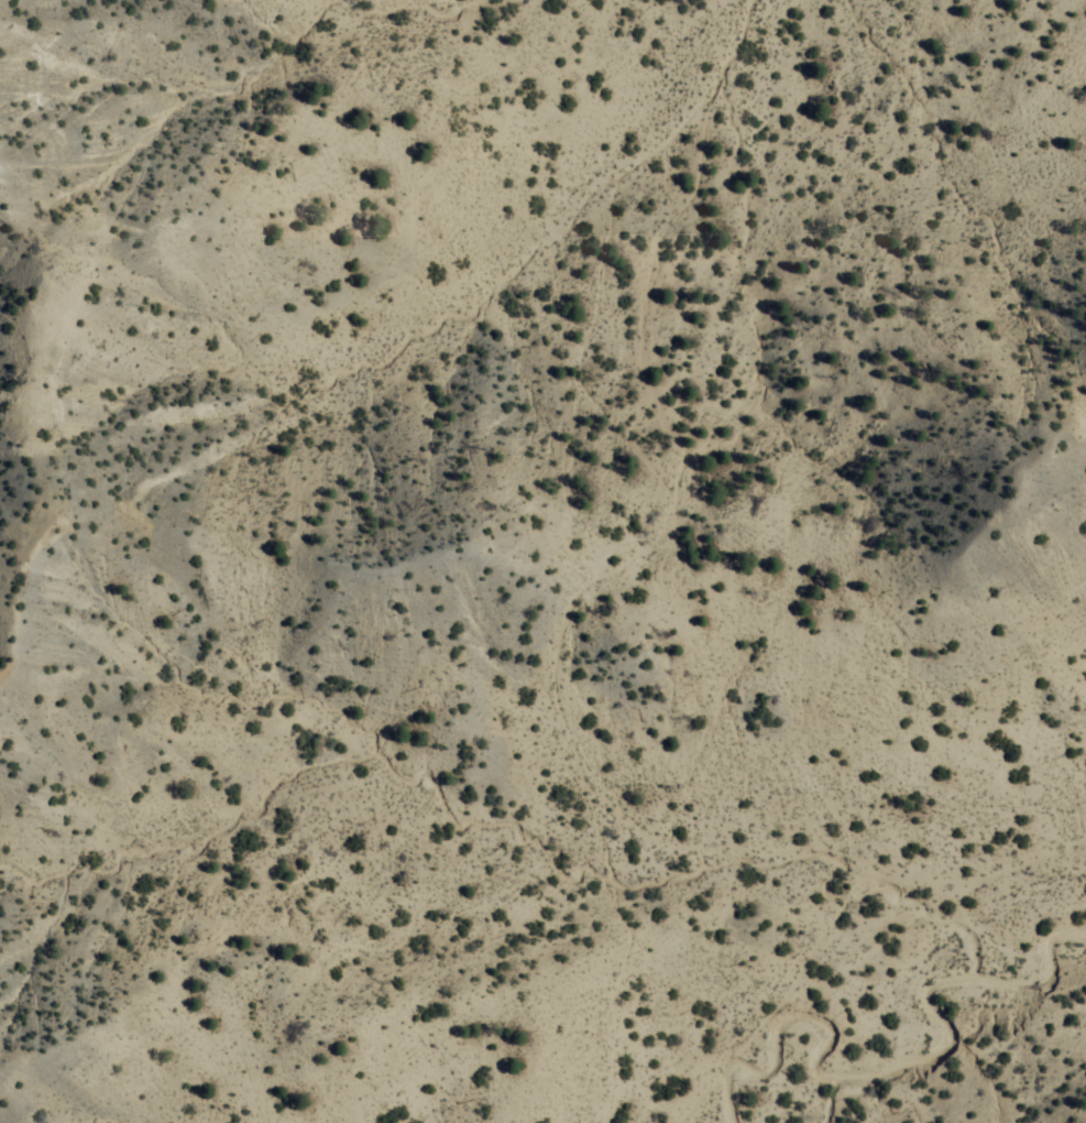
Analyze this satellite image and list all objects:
road: (862, 958)

